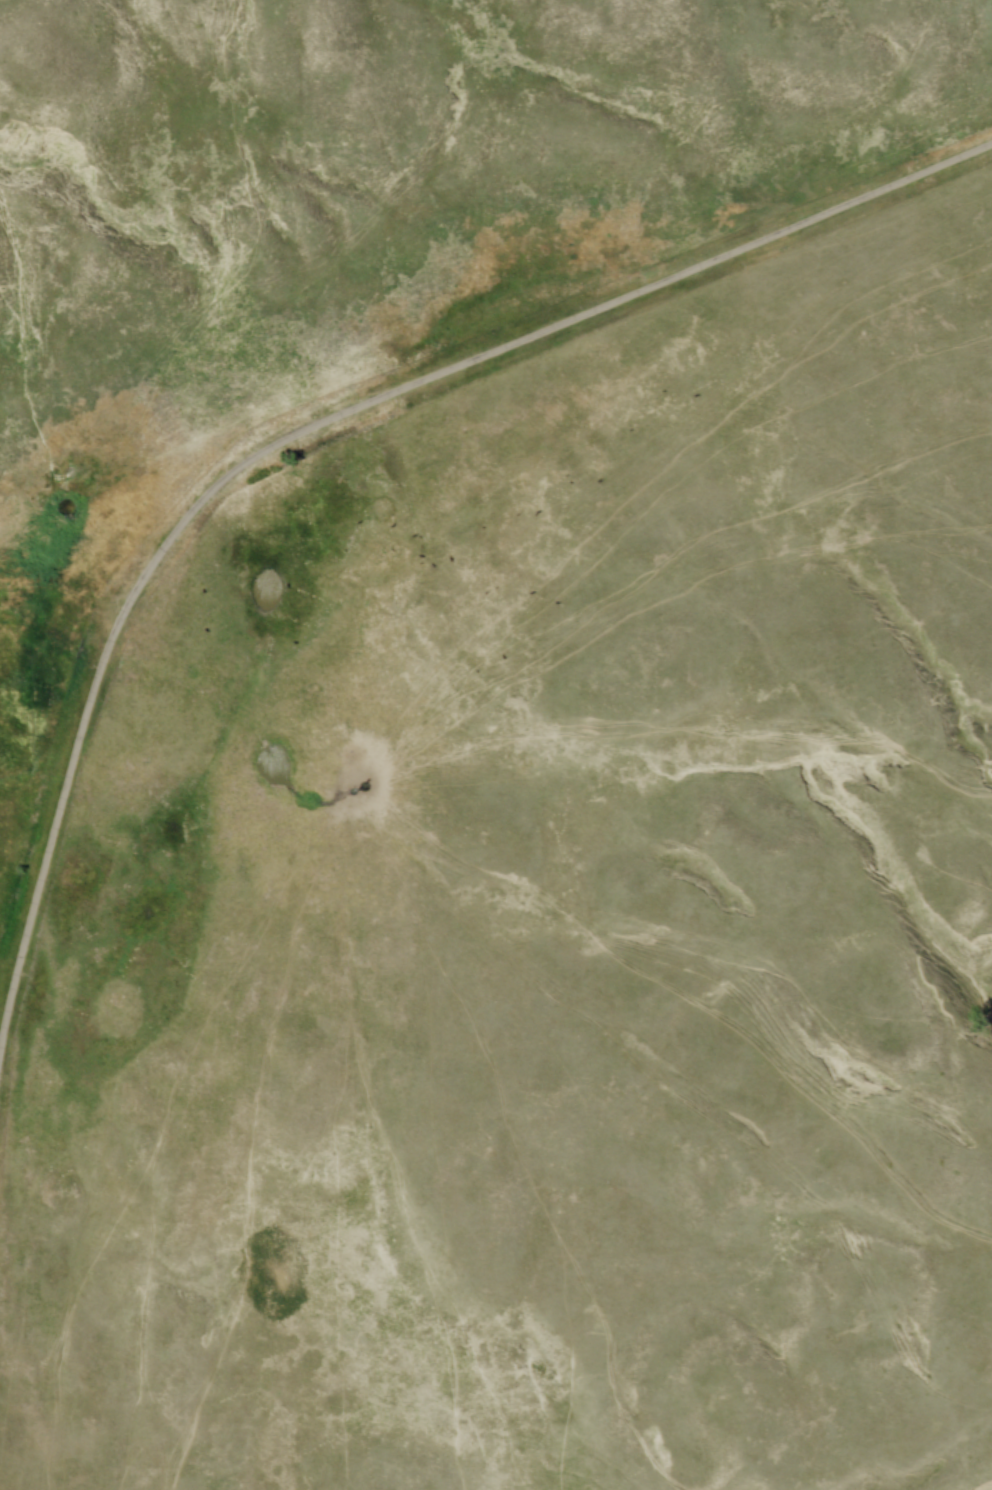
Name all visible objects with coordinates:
road: (458, 368)
road: (35, 902)

